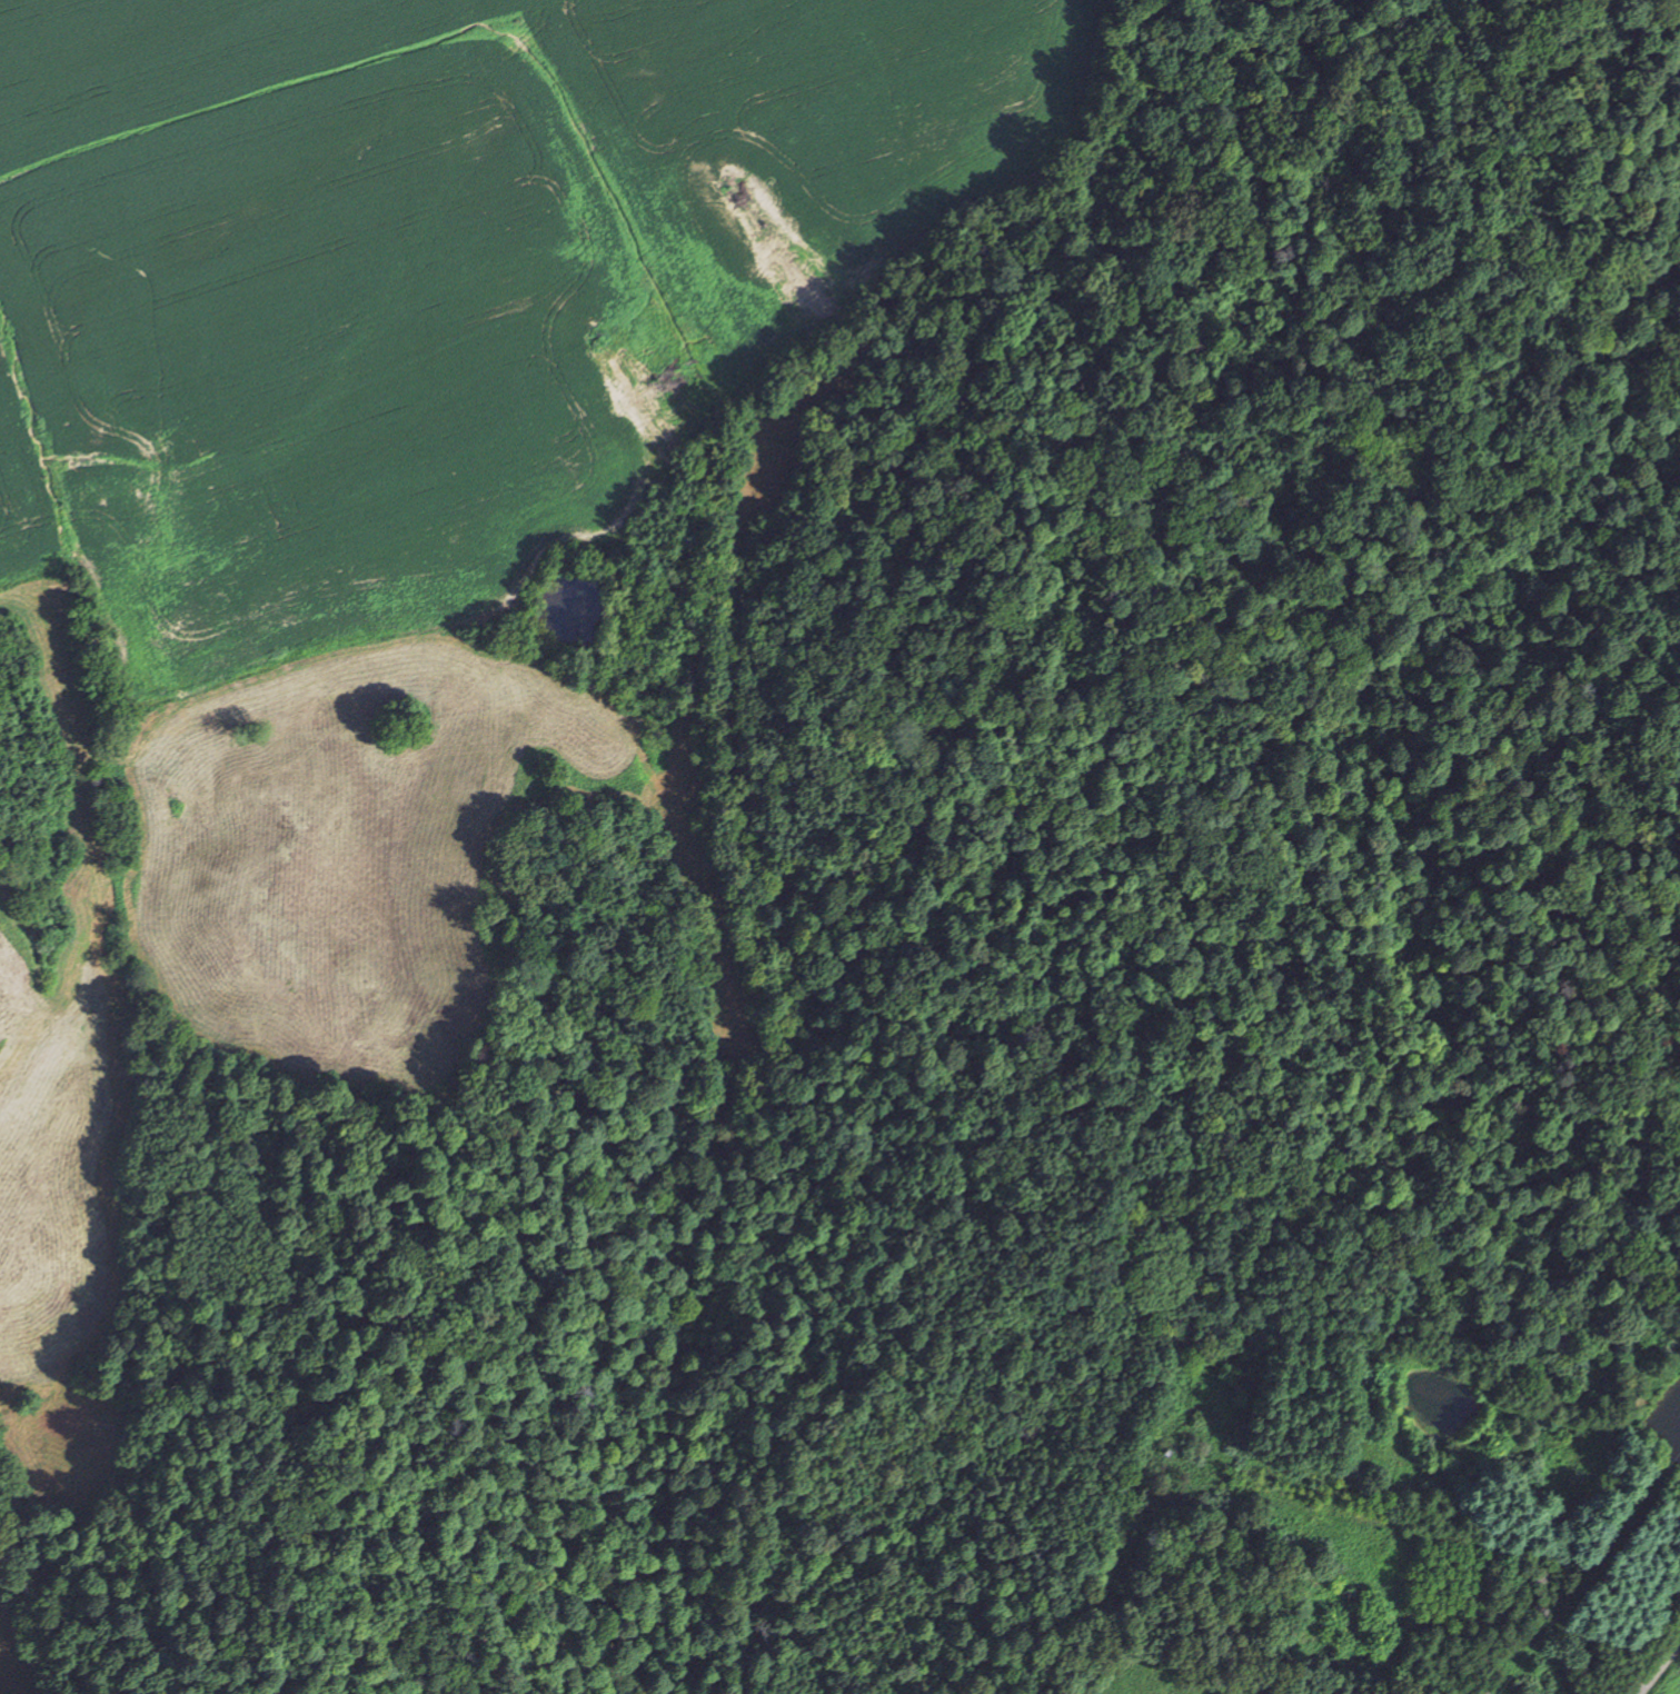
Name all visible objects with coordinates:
road: (1662, 1672)

